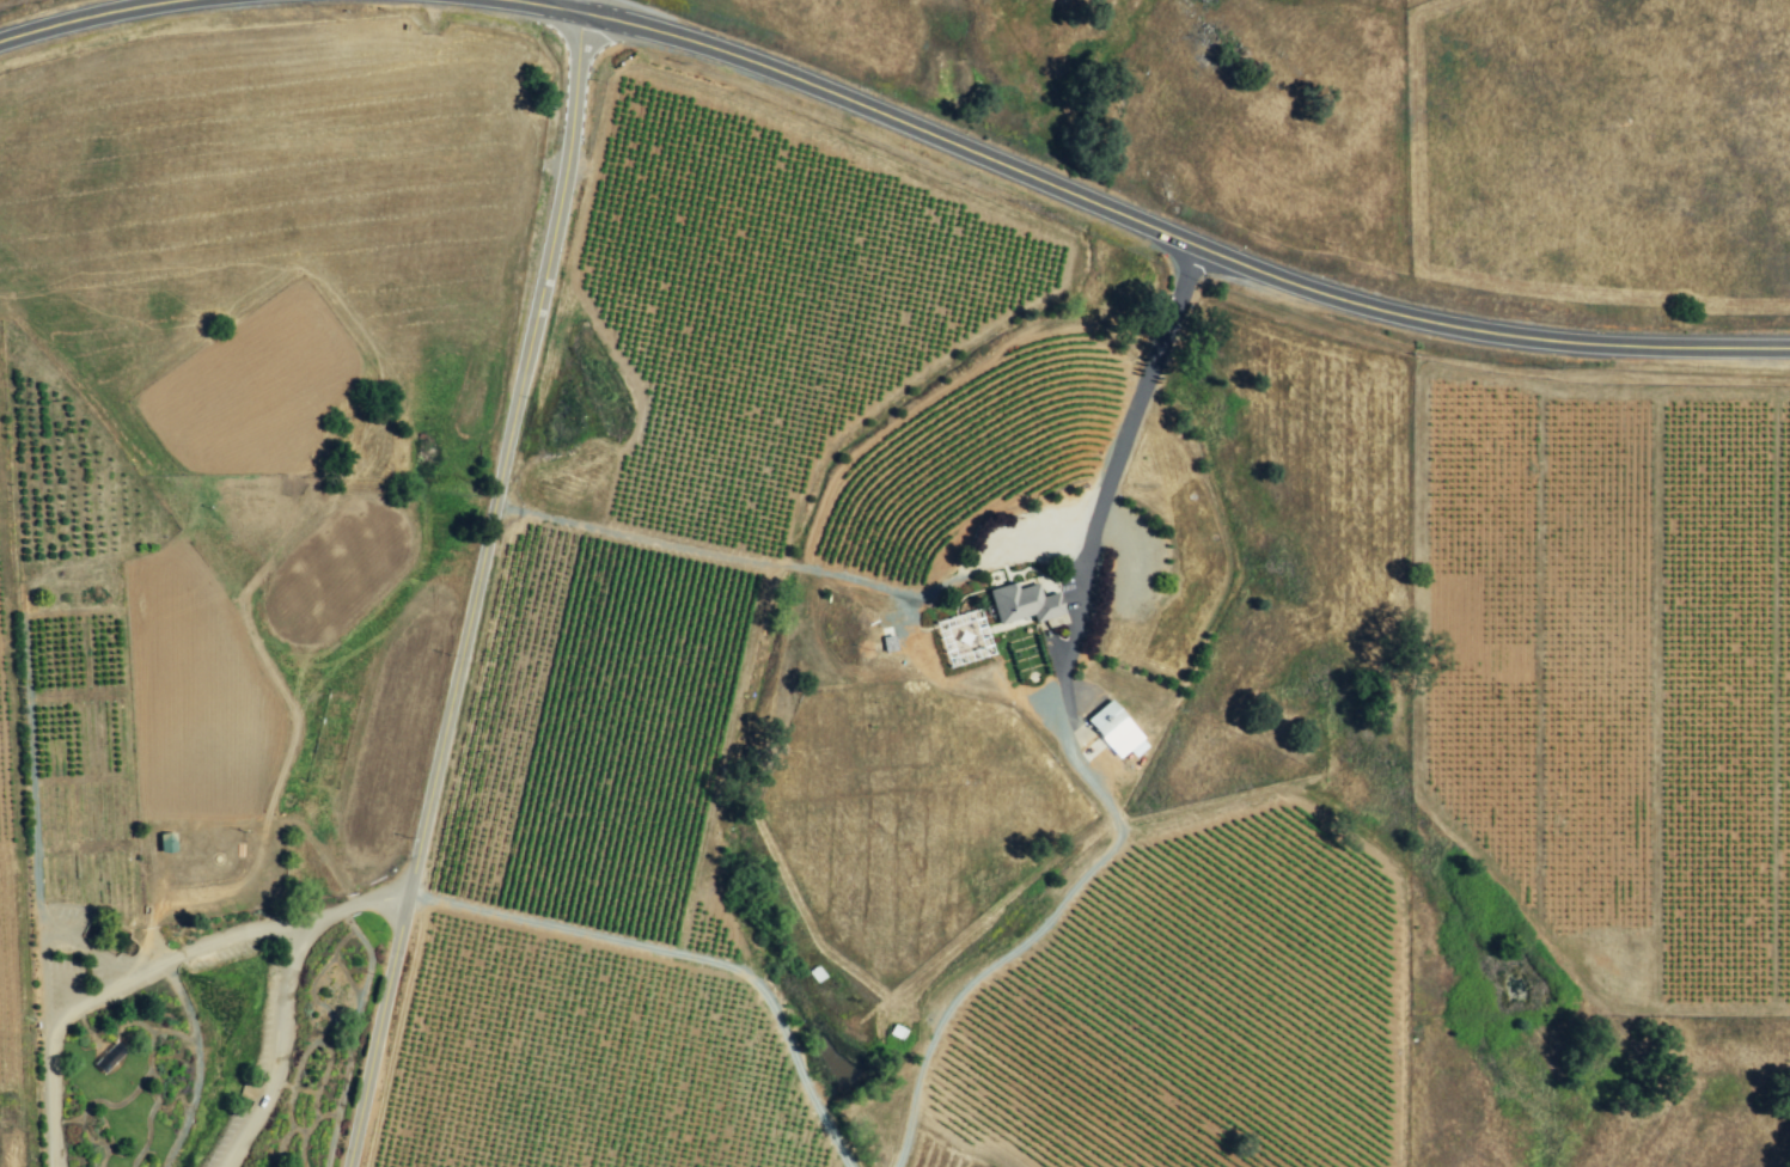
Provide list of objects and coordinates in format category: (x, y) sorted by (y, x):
road: (575, 6)
road: (92, 16)
road: (1137, 225)
road: (806, 569)
road: (479, 589)
building: (1024, 604)
building: (1113, 731)
road: (1073, 745)
building: (164, 842)
road: (362, 903)
road: (234, 935)
road: (690, 955)
road: (51, 1031)
road: (277, 1049)

